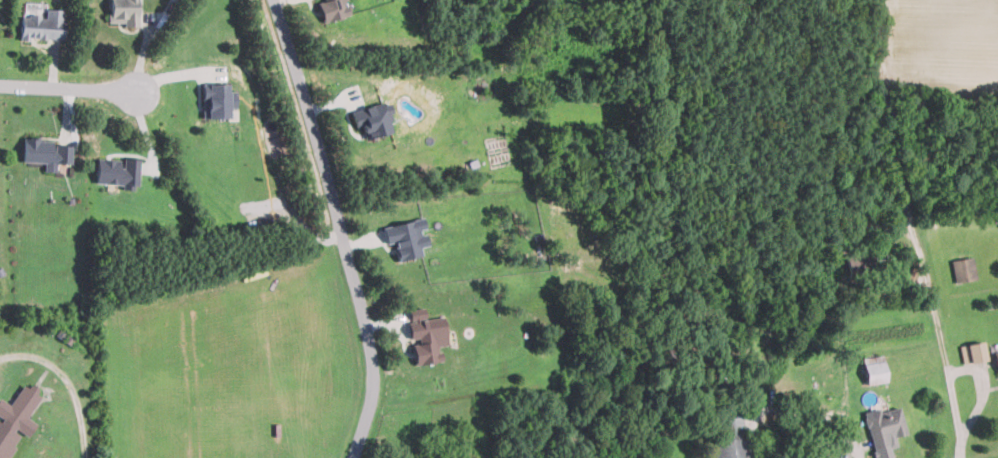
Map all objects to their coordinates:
building: (333, 9)
building: (124, 12)
building: (43, 23)
road: (74, 88)
building: (219, 100)
building: (374, 118)
building: (47, 151)
building: (118, 171)
road: (340, 228)
building: (407, 237)
building: (867, 261)
building: (963, 269)
building: (426, 335)
road: (941, 338)
building: (974, 351)
building: (997, 354)
building: (666, 355)
building: (875, 369)
road: (67, 382)
building: (720, 391)
building: (20, 409)
building: (885, 425)
building: (733, 439)
building: (7, 440)

